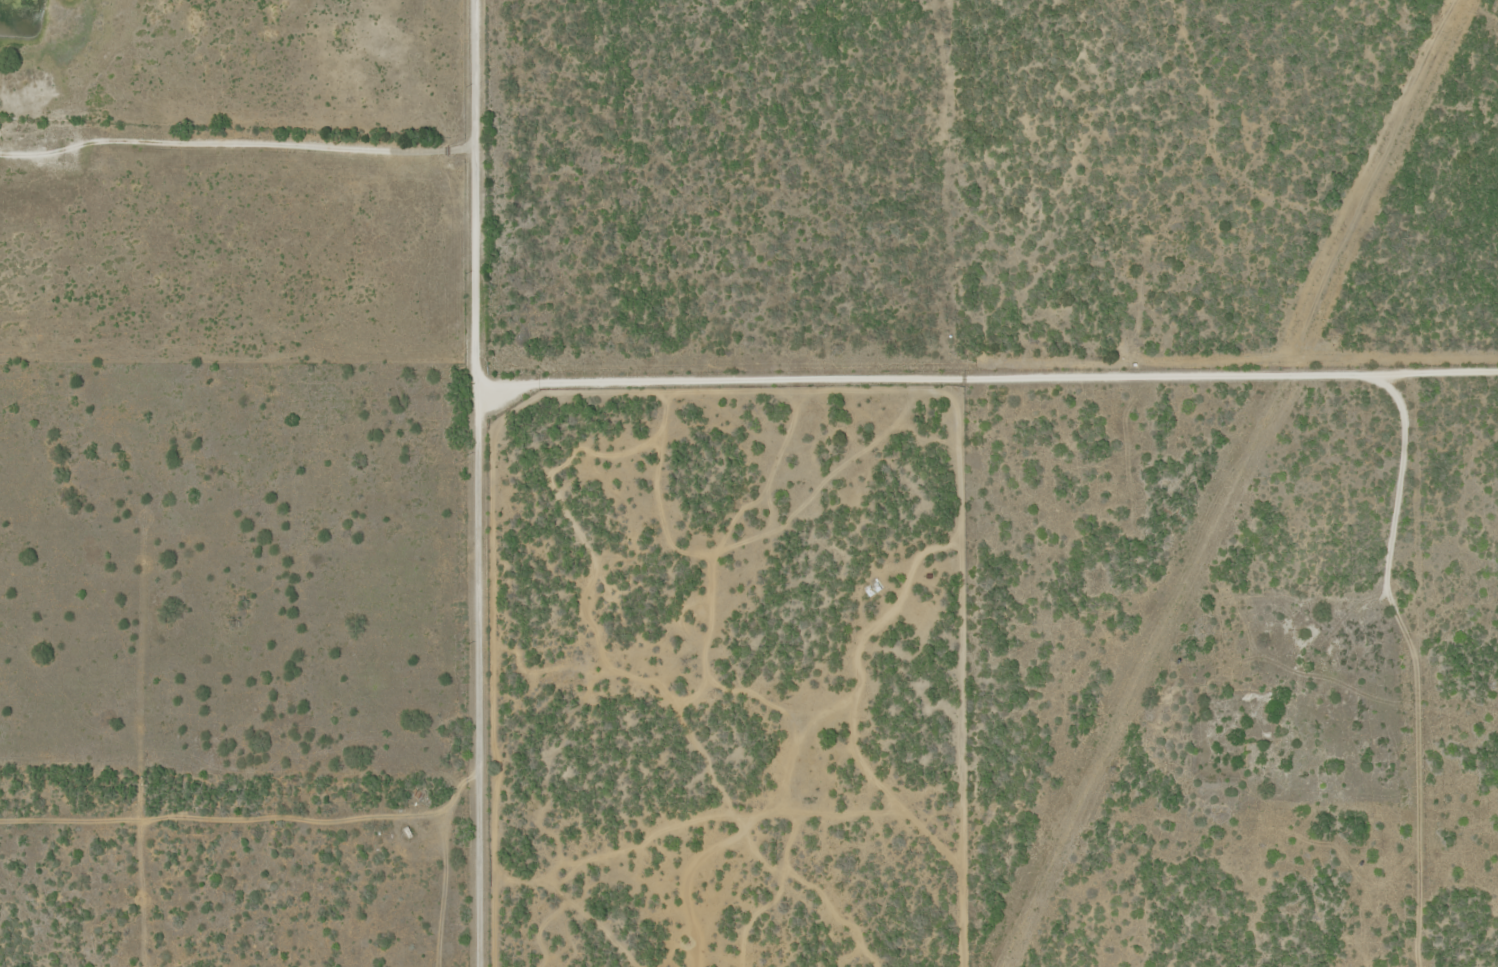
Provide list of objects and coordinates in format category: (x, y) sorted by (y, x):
road: (989, 381)
road: (491, 481)
road: (1473, 586)
building: (873, 589)
road: (665, 745)

